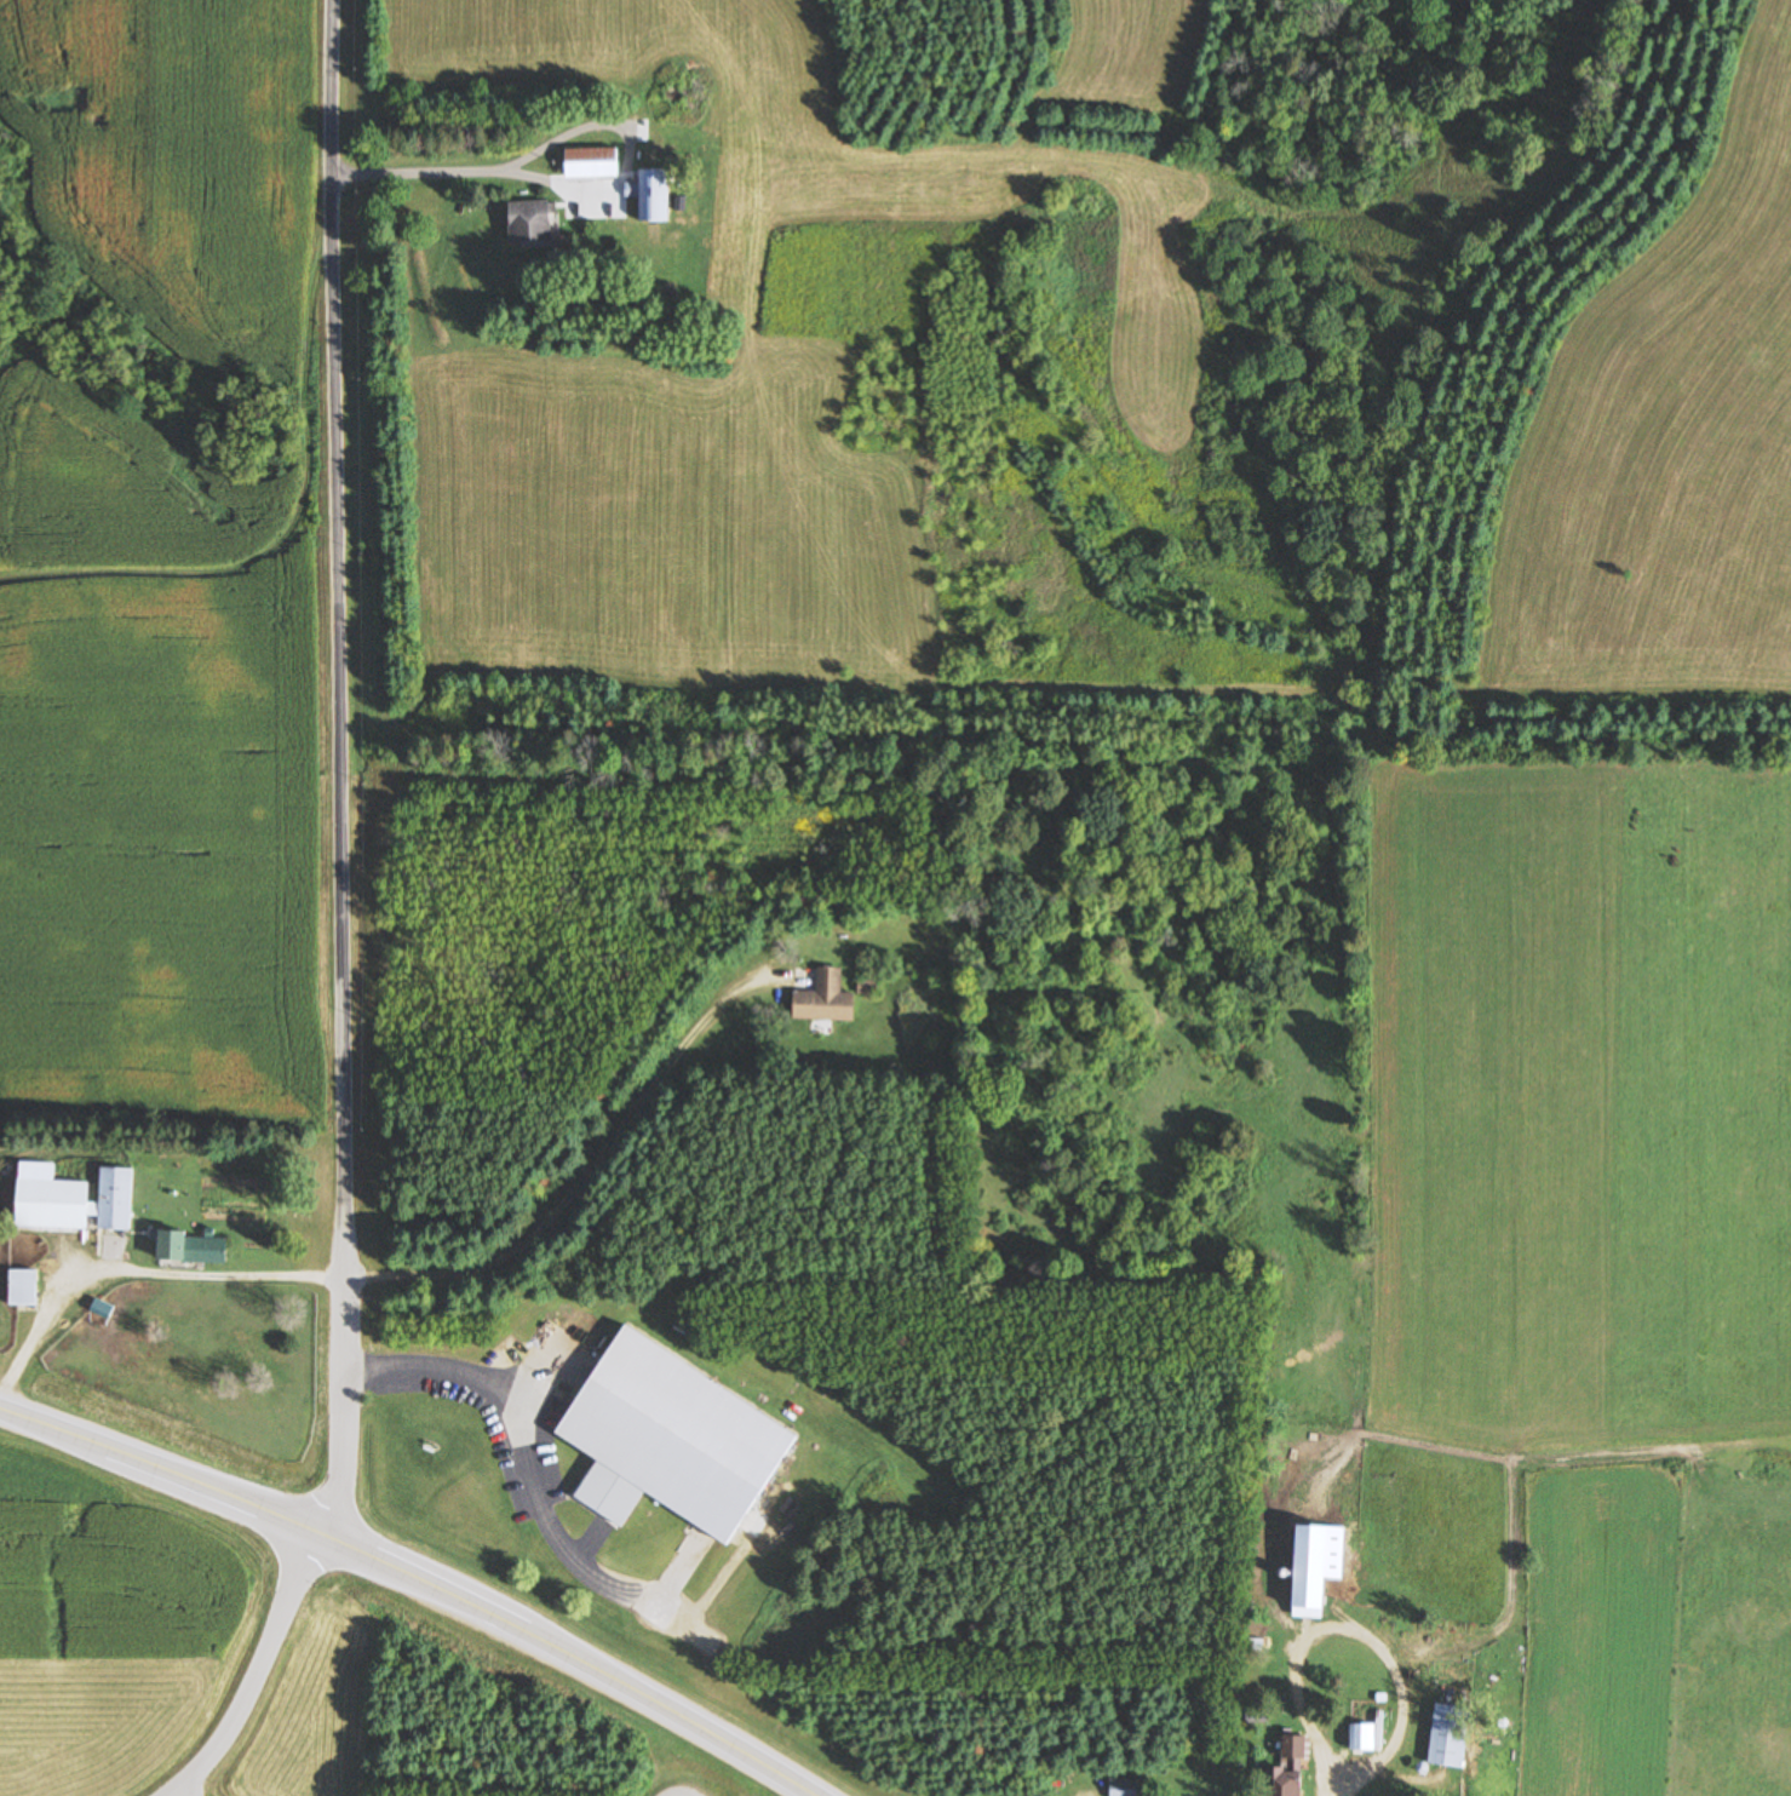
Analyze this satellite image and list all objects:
building: (592, 165)
building: (653, 196)
building: (532, 223)
road: (343, 769)
building: (826, 999)
road: (622, 1132)
building: (73, 1200)
building: (193, 1247)
road: (138, 1255)
building: (24, 1291)
building: (671, 1438)
road: (415, 1580)
road: (258, 1671)
building: (1451, 1737)
building: (1362, 1738)
building: (1291, 1768)
building: (1124, 1788)

